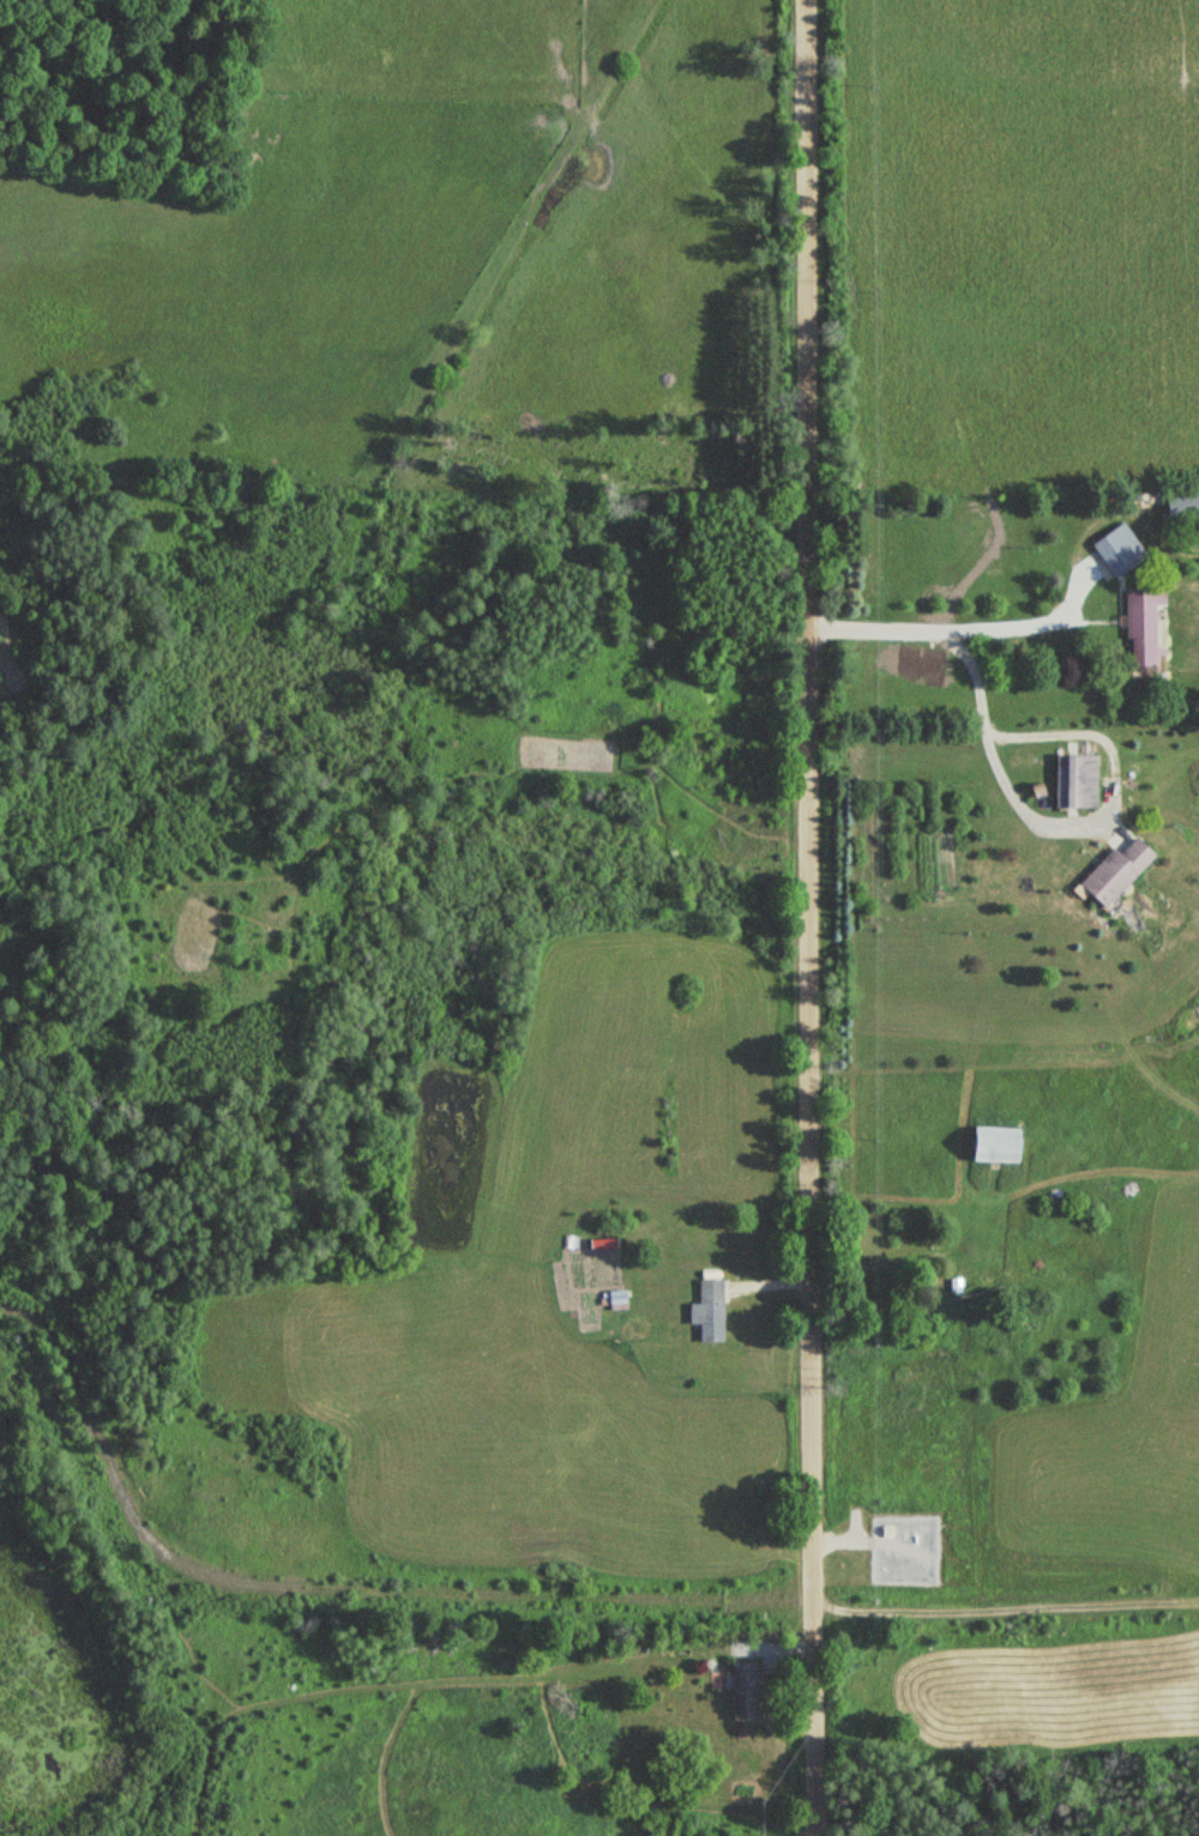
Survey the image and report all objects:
building: (1119, 549)
building: (1143, 627)
building: (1073, 779)
building: (1111, 871)
road: (783, 917)
building: (990, 1145)
building: (709, 1310)
building: (741, 1691)

